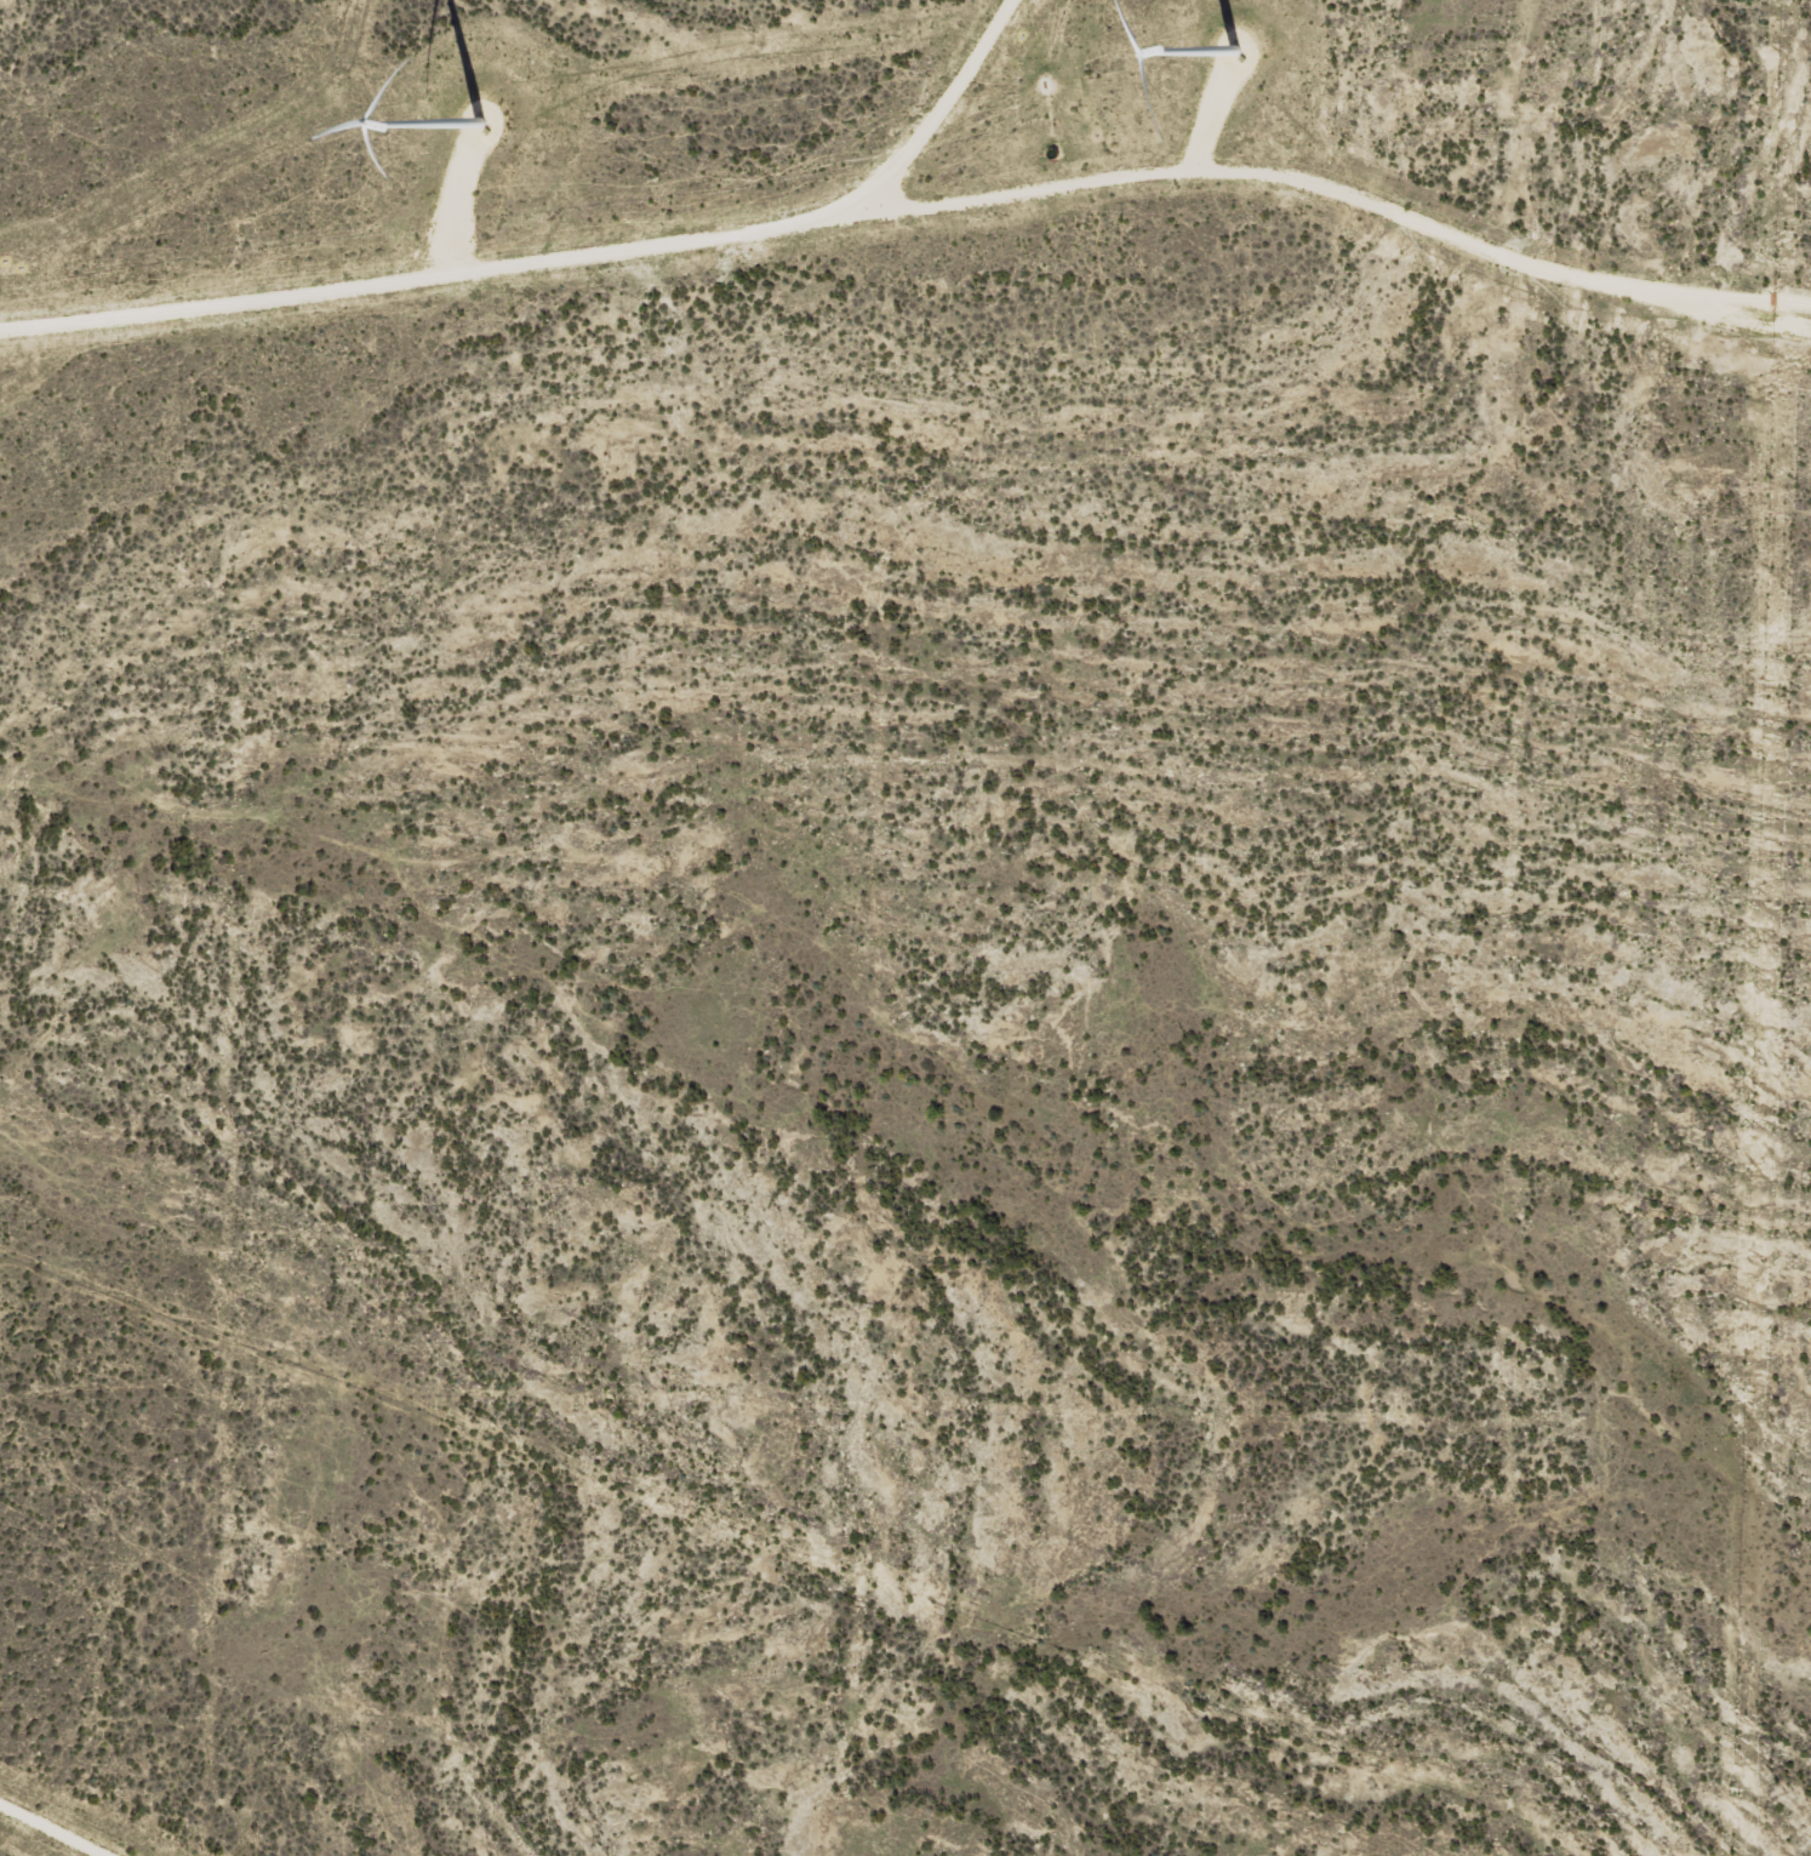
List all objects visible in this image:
wind turbine: (1235, 47)
wind turbine: (476, 122)
road: (1227, 172)

